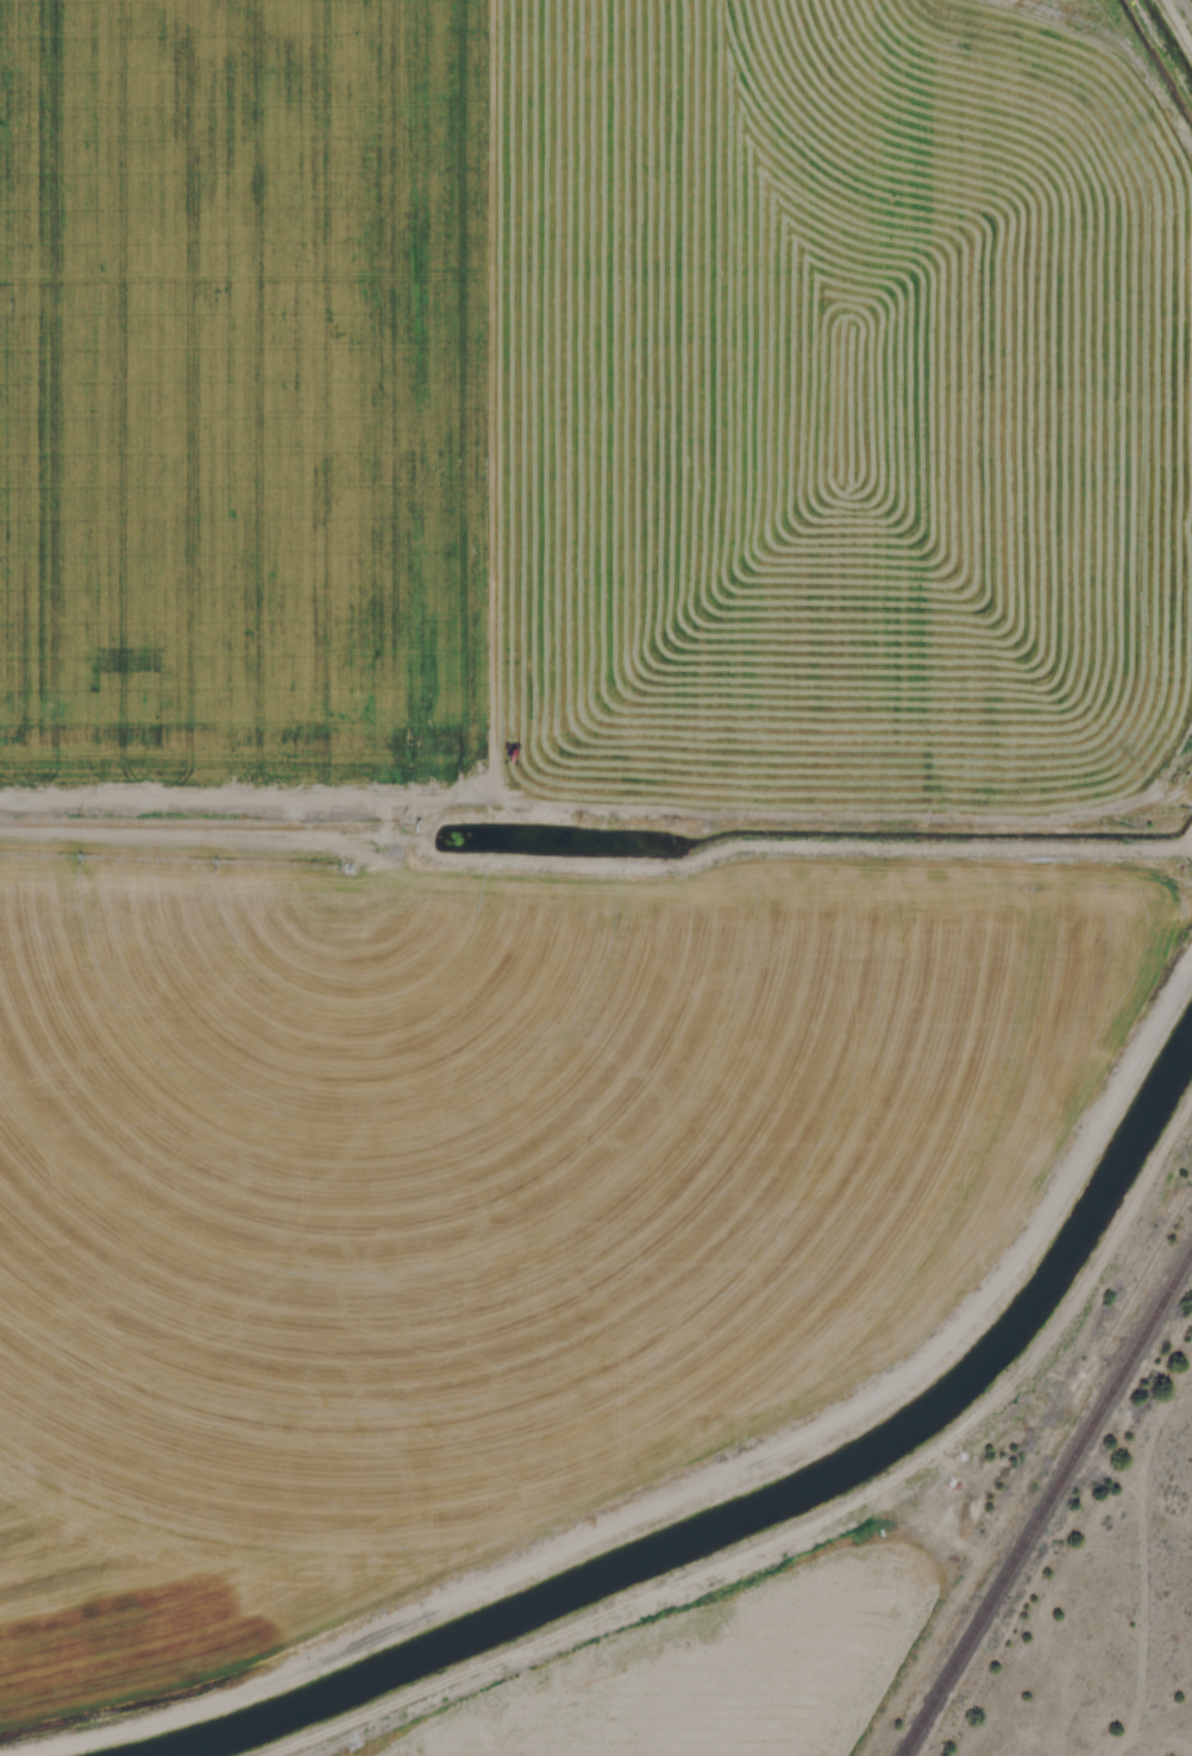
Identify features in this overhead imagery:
railway: (1050, 1507)
road: (1144, 1555)

